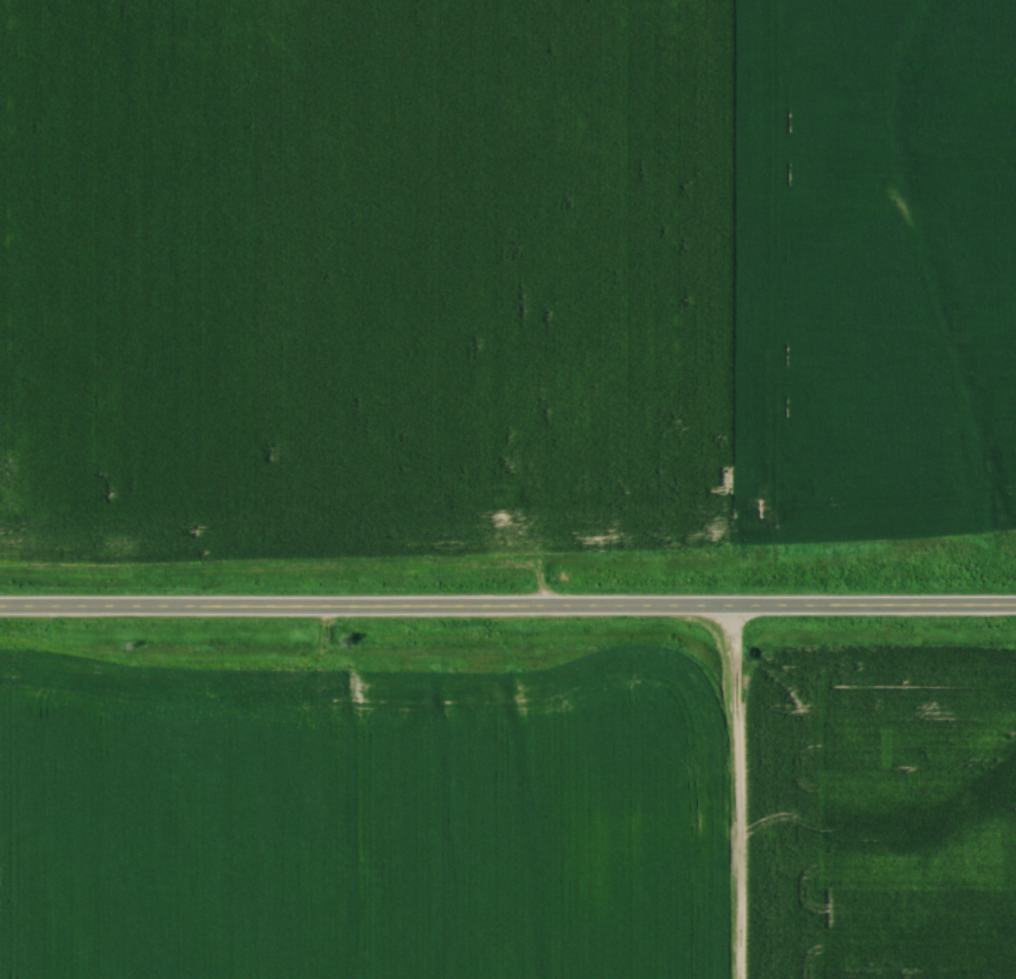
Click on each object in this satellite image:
road: (507, 592)
road: (738, 785)

